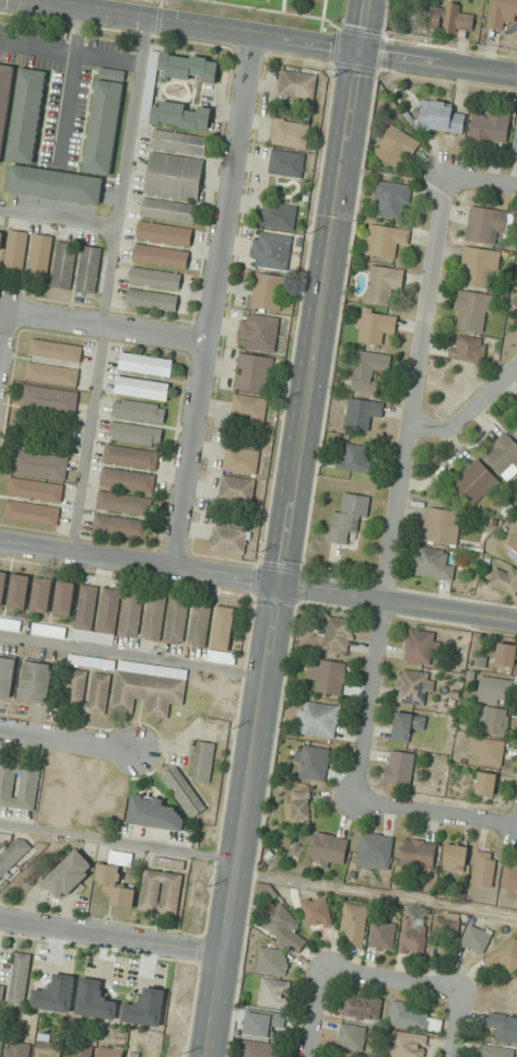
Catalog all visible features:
building: (502, 13)
building: (450, 19)
road: (272, 36)
traffic signals: (362, 51)
building: (188, 67)
building: (298, 85)
building: (26, 115)
building: (176, 115)
building: (440, 117)
building: (105, 121)
building: (491, 127)
building: (290, 132)
building: (179, 142)
building: (515, 145)
building: (286, 163)
building: (174, 176)
road: (483, 181)
building: (55, 184)
building: (392, 199)
building: (168, 210)
building: (279, 215)
building: (486, 224)
building: (164, 233)
building: (1, 236)
building: (386, 240)
building: (271, 249)
building: (16, 250)
building: (40, 255)
building: (161, 256)
building: (64, 265)
building: (480, 267)
building: (89, 269)
building: (155, 278)
building: (384, 284)
building: (268, 292)
building: (152, 298)
building: (514, 298)
road: (212, 302)
building: (473, 312)
building: (375, 326)
road: (107, 328)
building: (259, 330)
road: (4, 340)
building: (468, 349)
building: (57, 350)
building: (146, 364)
building: (369, 369)
building: (254, 373)
building: (52, 374)
building: (142, 388)
building: (50, 399)
building: (249, 408)
road: (469, 410)
building: (139, 411)
building: (363, 413)
building: (136, 433)
building: (516, 434)
building: (503, 454)
building: (131, 457)
building: (355, 458)
building: (242, 459)
building: (40, 463)
building: (128, 480)
building: (474, 482)
road: (402, 486)
building: (237, 489)
building: (36, 490)
building: (124, 503)
building: (32, 513)
building: (349, 518)
building: (120, 526)
building: (442, 526)
road: (290, 528)
building: (230, 539)
building: (512, 549)
building: (433, 564)
road: (140, 565)
building: (505, 580)
building: (2, 586)
traffic signals: (281, 589)
building: (19, 591)
building: (42, 595)
building: (64, 599)
road: (399, 603)
building: (96, 614)
building: (131, 615)
building: (154, 618)
building: (177, 622)
building: (10, 624)
building: (200, 624)
building: (224, 627)
building: (49, 631)
building: (338, 634)
building: (422, 647)
building: (506, 655)
building: (221, 657)
building: (7, 676)
building: (328, 677)
building: (35, 681)
building: (149, 688)
building: (415, 688)
building: (495, 690)
building: (87, 691)
building: (320, 719)
building: (493, 719)
building: (408, 726)
road: (68, 738)
building: (489, 750)
building: (203, 761)
building: (313, 762)
building: (399, 768)
building: (486, 783)
building: (19, 785)
building: (184, 791)
building: (301, 806)
road: (434, 810)
building: (154, 813)
building: (329, 848)
building: (375, 850)
building: (418, 854)
building: (12, 855)
building: (456, 857)
building: (167, 862)
building: (484, 868)
building: (69, 874)
building: (510, 878)
building: (116, 880)
building: (160, 892)
road: (379, 894)
building: (317, 913)
building: (353, 925)
building: (446, 927)
building: (285, 929)
building: (383, 936)
building: (413, 936)
road: (115, 938)
building: (475, 938)
building: (505, 956)
building: (273, 962)
building: (20, 978)
road: (392, 980)
building: (1, 990)
building: (274, 993)
building: (55, 994)
building: (94, 1000)
building: (362, 1007)
building: (145, 1008)
road: (318, 1014)
building: (414, 1018)
building: (265, 1023)
road: (455, 1023)
building: (504, 1026)
building: (352, 1037)
building: (408, 1045)
building: (0, 1046)
building: (16, 1049)
building: (48, 1049)
building: (258, 1049)
building: (109, 1050)
building: (78, 1052)
building: (497, 1052)
building: (138, 1055)

